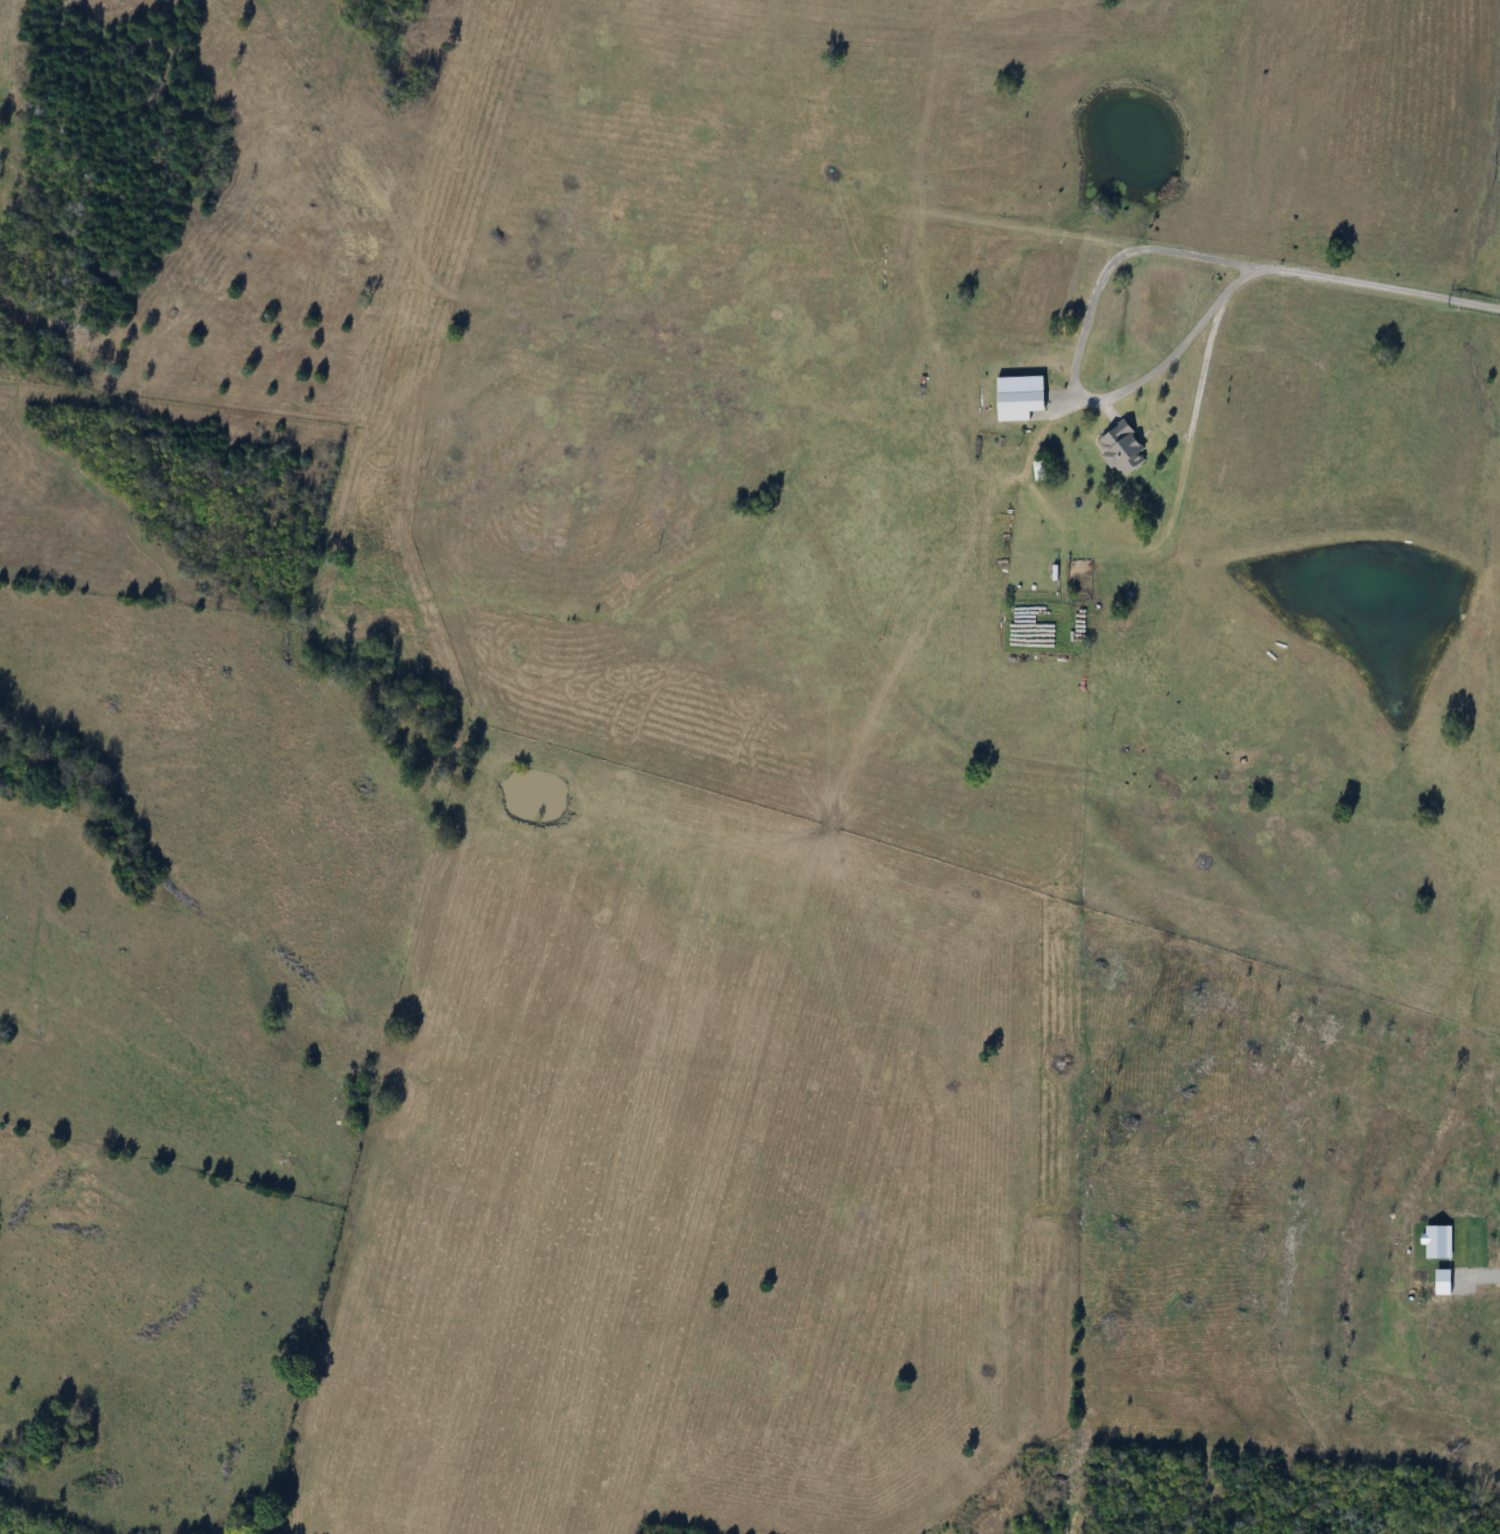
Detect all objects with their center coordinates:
road: (1378, 283)
road: (1074, 363)
building: (1022, 405)
building: (1124, 447)

